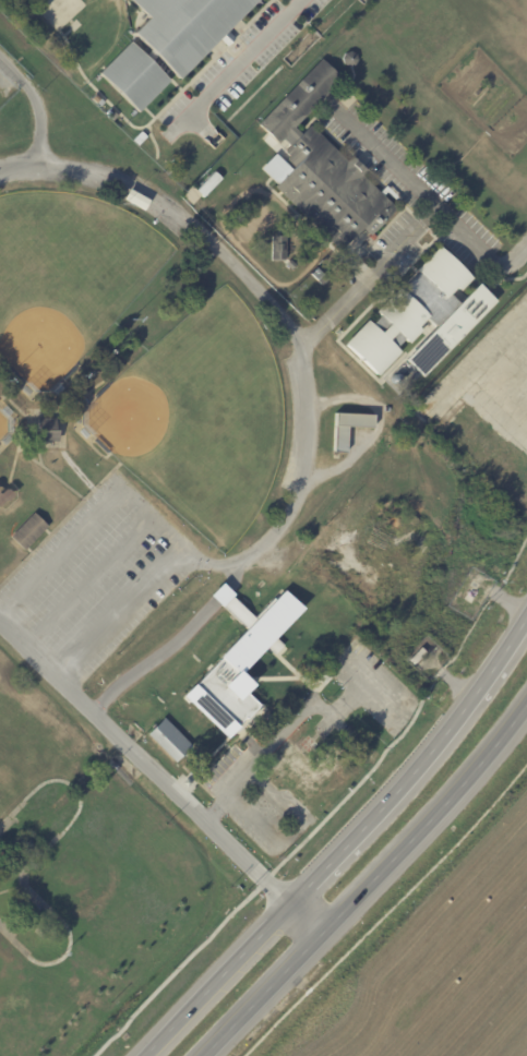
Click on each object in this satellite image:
building: (46, 8)
building: (170, 44)
building: (350, 58)
road: (229, 69)
road: (35, 107)
building: (322, 168)
building: (208, 183)
road: (410, 228)
building: (279, 247)
road: (476, 251)
building: (319, 276)
park: (65, 279)
building: (423, 317)
road: (307, 399)
park: (199, 418)
park: (2, 424)
building: (47, 430)
building: (339, 440)
building: (5, 495)
building: (28, 530)
road: (170, 644)
road: (28, 655)
building: (418, 656)
building: (229, 715)
road: (277, 737)
building: (170, 740)
park: (29, 747)
road: (416, 768)
building: (304, 772)
road: (172, 793)
road: (426, 818)
park: (108, 874)
road: (304, 919)
road: (216, 981)
road: (260, 994)
park: (33, 1006)

